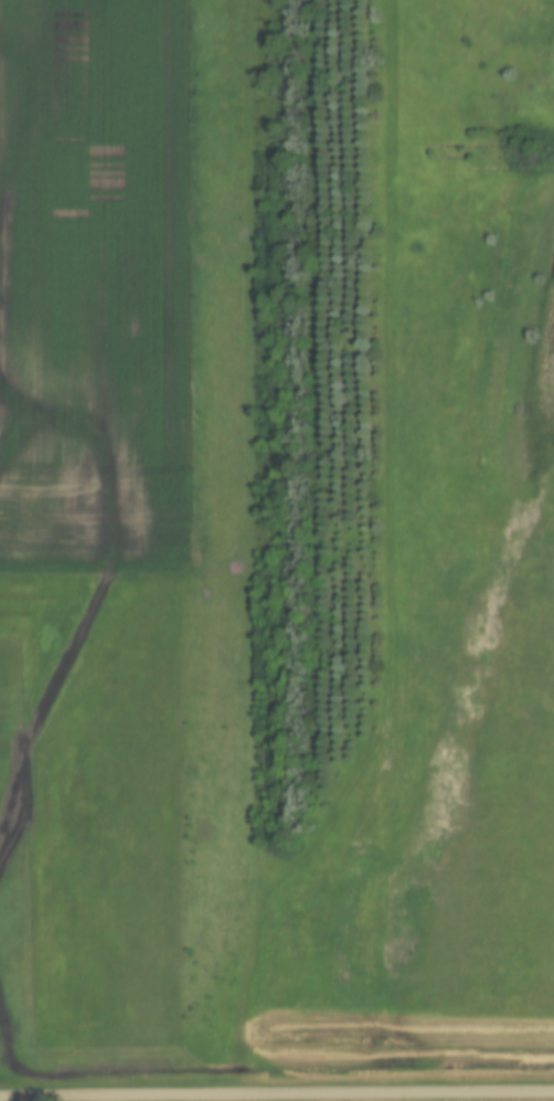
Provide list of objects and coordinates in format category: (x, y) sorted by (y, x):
road: (277, 1098)

